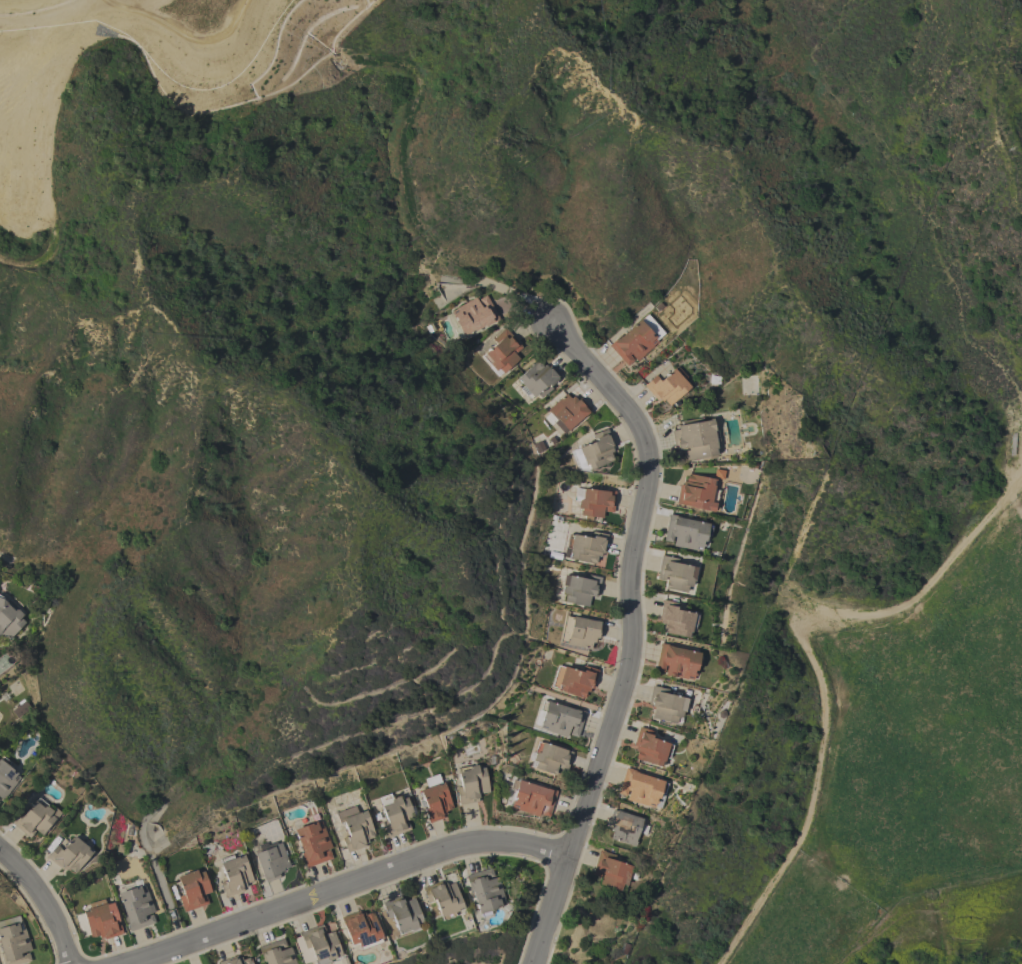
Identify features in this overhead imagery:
building: (473, 315)
building: (633, 342)
building: (501, 351)
building: (536, 379)
building: (667, 386)
building: (567, 411)
building: (696, 438)
building: (594, 451)
building: (697, 492)
building: (594, 501)
building: (686, 532)
building: (587, 546)
building: (675, 573)
building: (580, 588)
building: (9, 618)
building: (676, 619)
building: (580, 631)
road: (631, 634)
building: (676, 661)
road: (817, 669)
building: (574, 680)
building: (665, 705)
building: (20, 707)
building: (559, 719)
building: (650, 747)
building: (549, 758)
building: (6, 777)
building: (471, 783)
building: (642, 788)
building: (434, 798)
building: (531, 798)
building: (395, 814)
building: (35, 818)
building: (626, 826)
building: (354, 828)
building: (313, 843)
building: (70, 853)
building: (271, 860)
building: (610, 870)
building: (234, 874)
road: (339, 886)
building: (192, 889)
building: (484, 890)
building: (443, 898)
road: (42, 903)
building: (136, 907)
building: (402, 913)
building: (101, 922)
building: (361, 929)
building: (13, 941)
building: (315, 944)
building: (276, 953)
road: (721, 957)
building: (235, 960)

